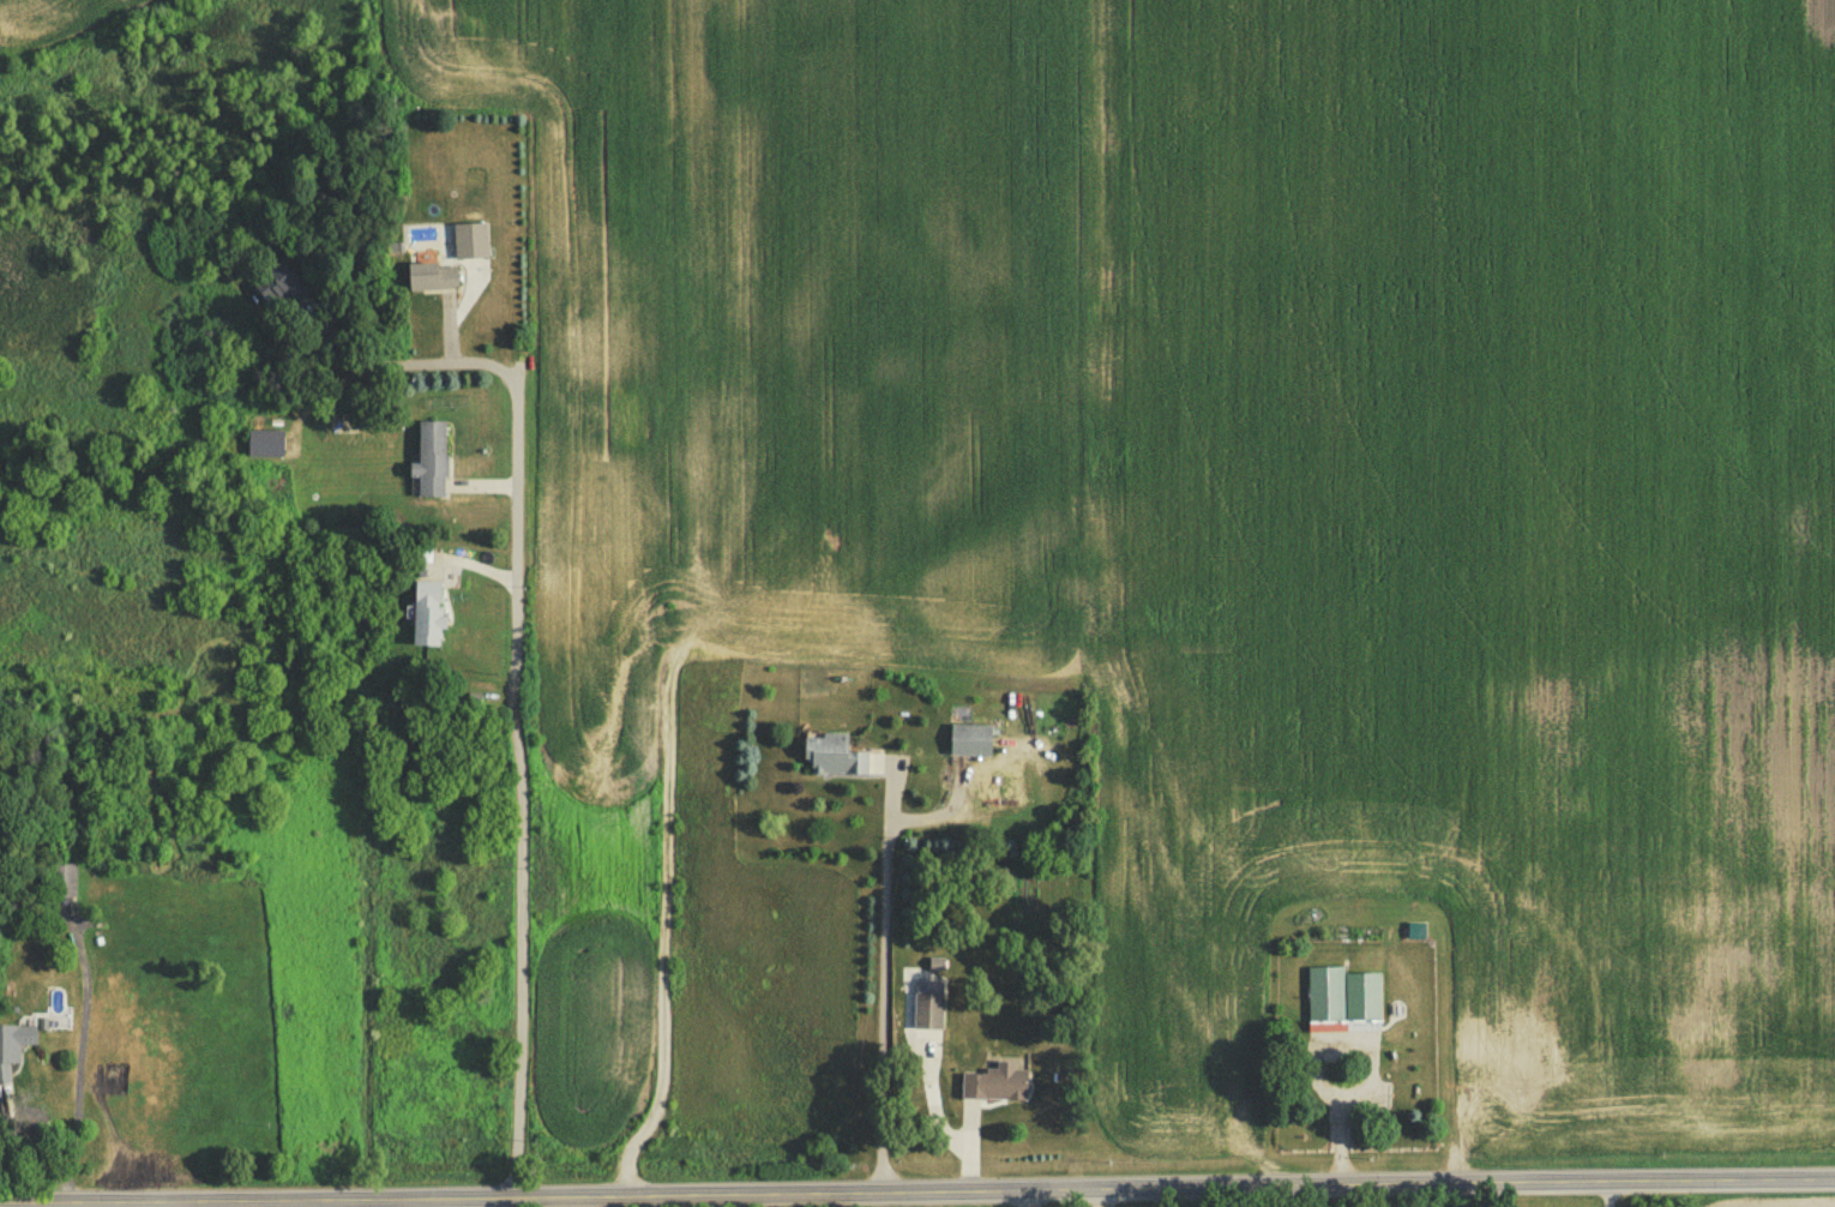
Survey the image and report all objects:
building: (438, 281)
building: (435, 463)
building: (431, 618)
road: (510, 651)
building: (975, 744)
building: (841, 759)
building: (67, 884)
road: (895, 961)
building: (1347, 1001)
building: (932, 1014)
building: (18, 1044)
road: (1318, 1047)
road: (83, 1056)
building: (999, 1089)
road: (917, 1190)
road: (1608, 1194)

